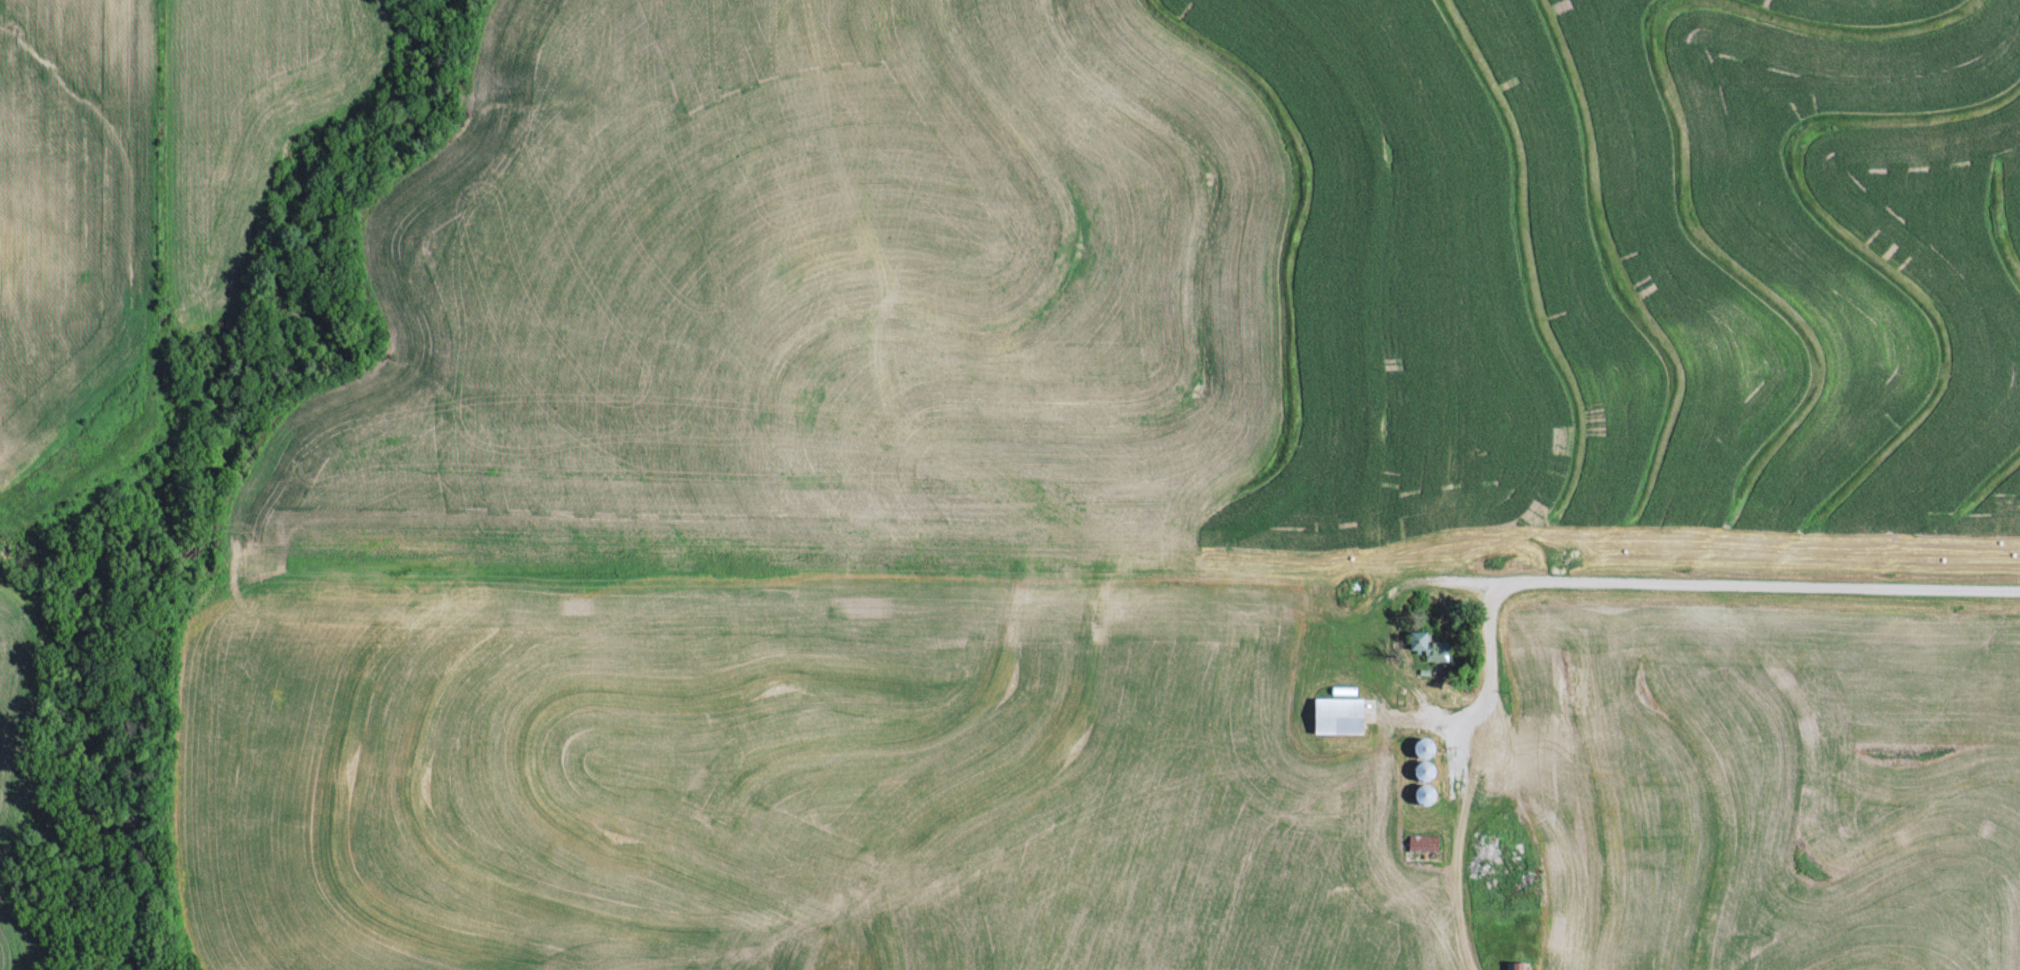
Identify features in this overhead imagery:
road: (1741, 583)
building: (1427, 644)
building: (1340, 714)
building: (1428, 756)
building: (1428, 791)
building: (1424, 842)
building: (1487, 853)
building: (1517, 965)

